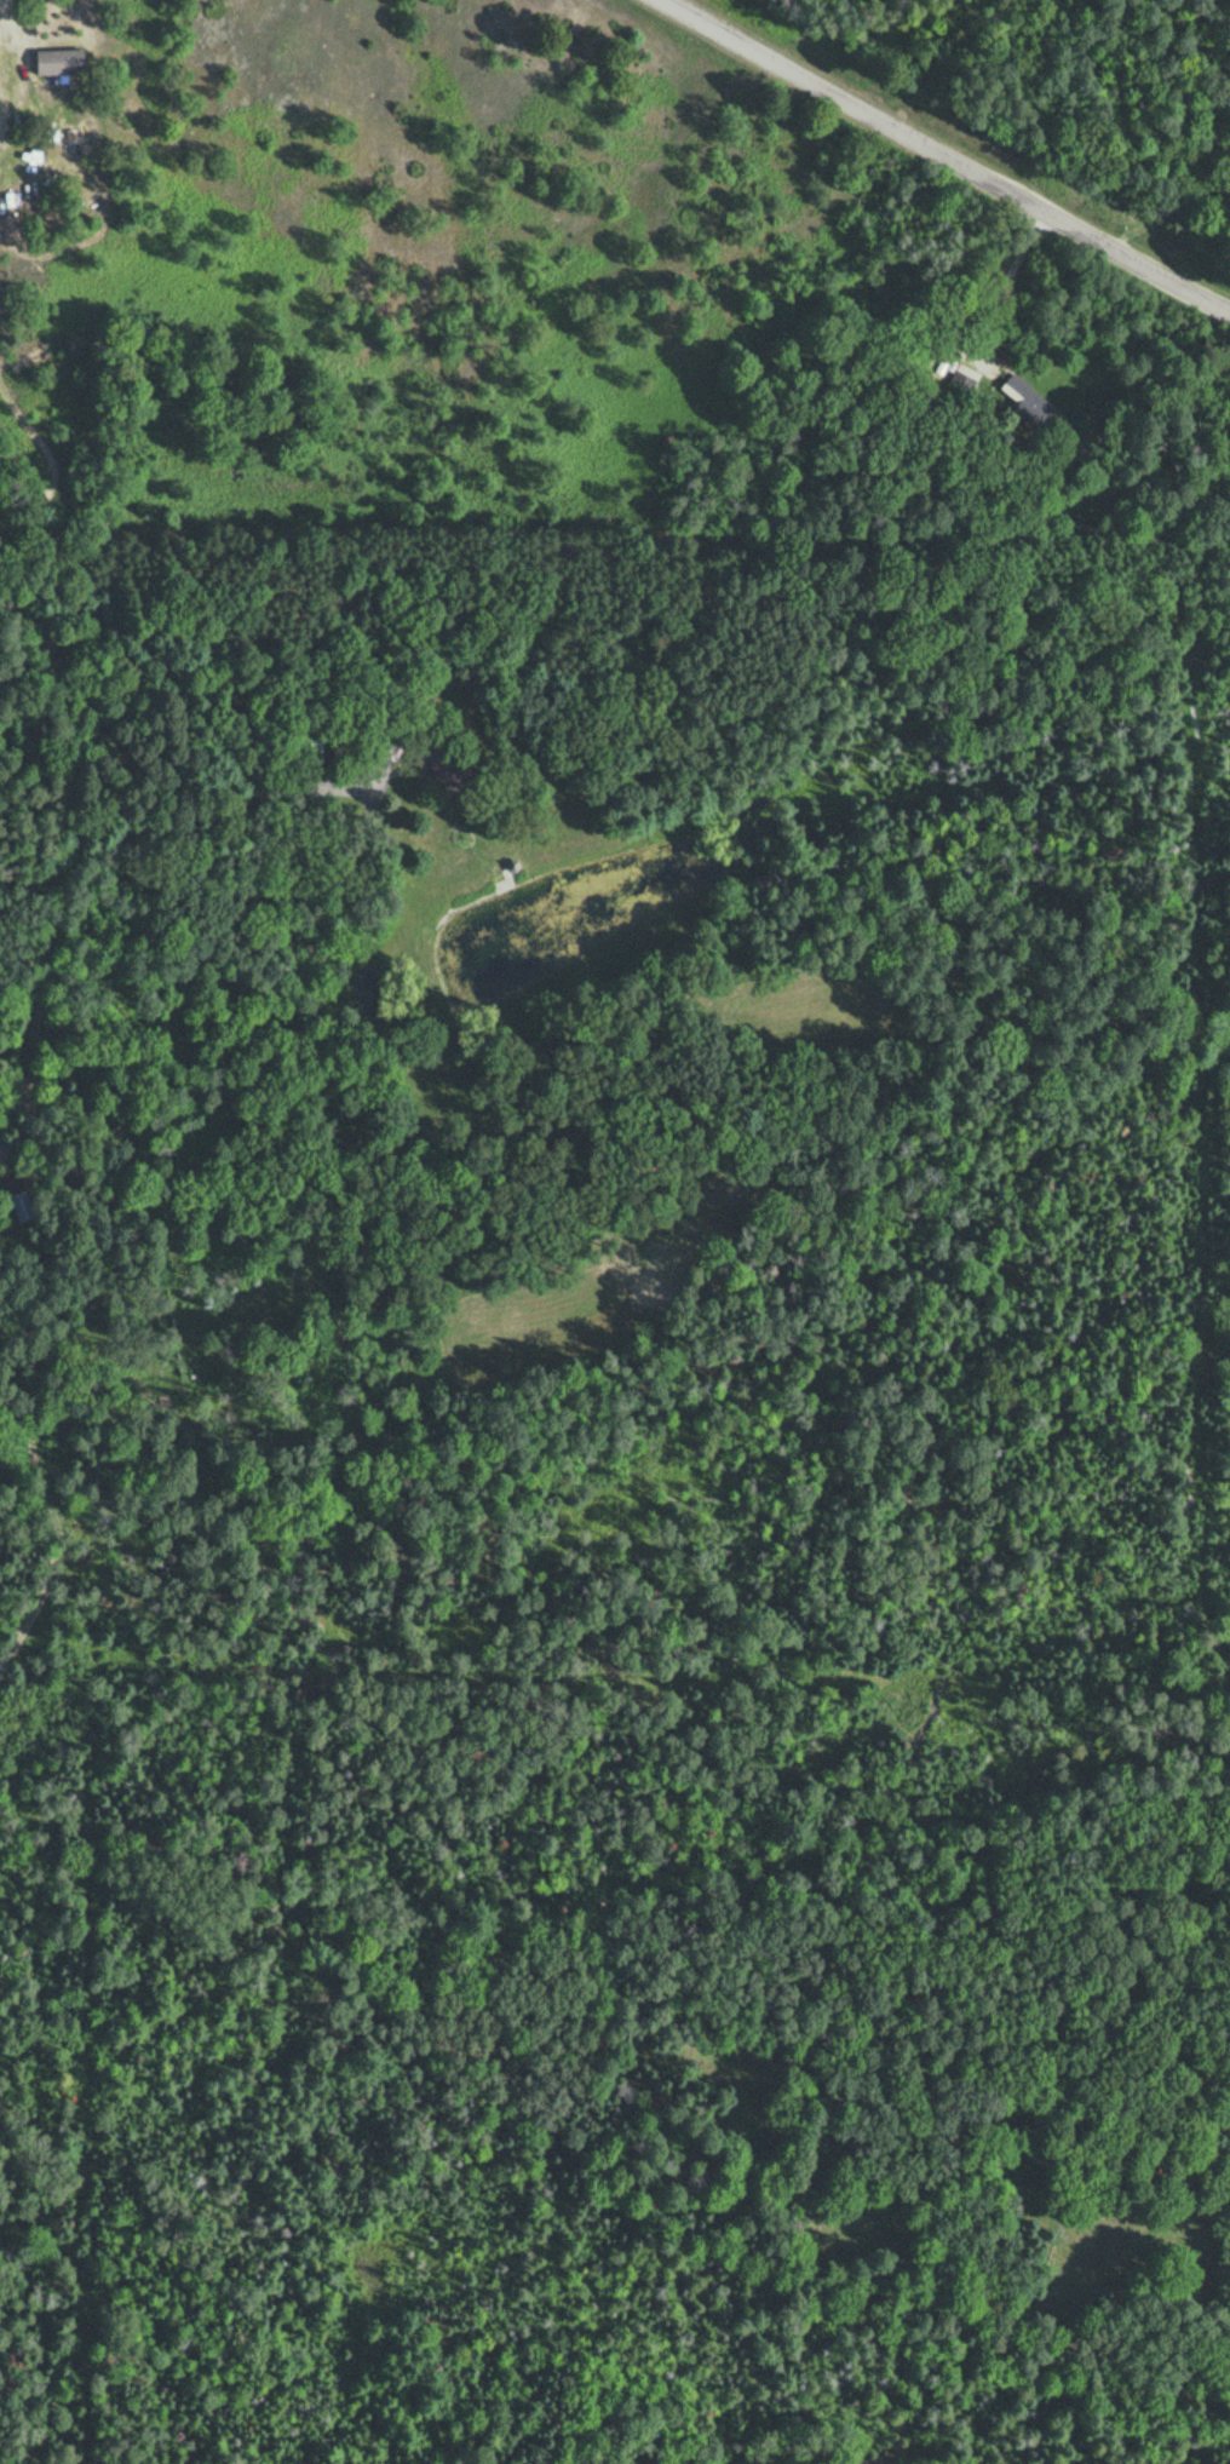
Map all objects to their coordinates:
building: (64, 63)
road: (950, 153)
building: (960, 385)
building: (1024, 396)
road: (184, 712)
building: (312, 745)
building: (446, 757)
road: (65, 888)
building: (21, 1200)

